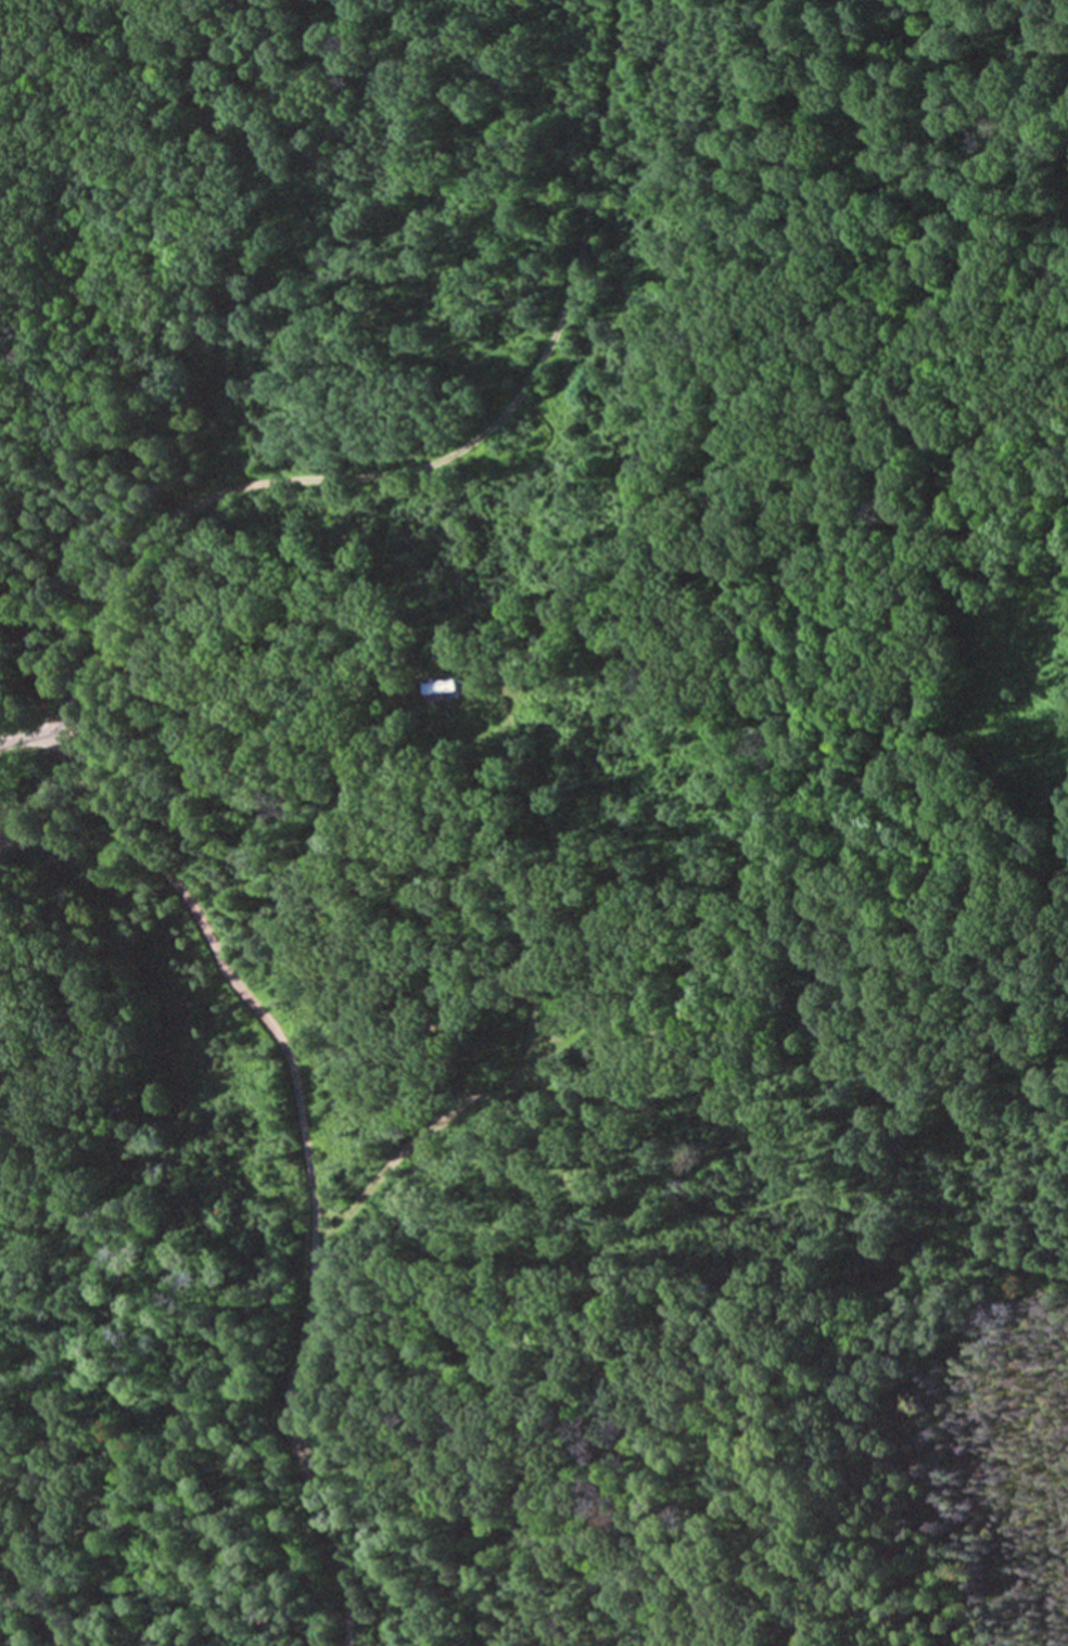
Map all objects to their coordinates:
building: (443, 687)
road: (49, 725)
road: (546, 1048)
road: (28, 1600)

